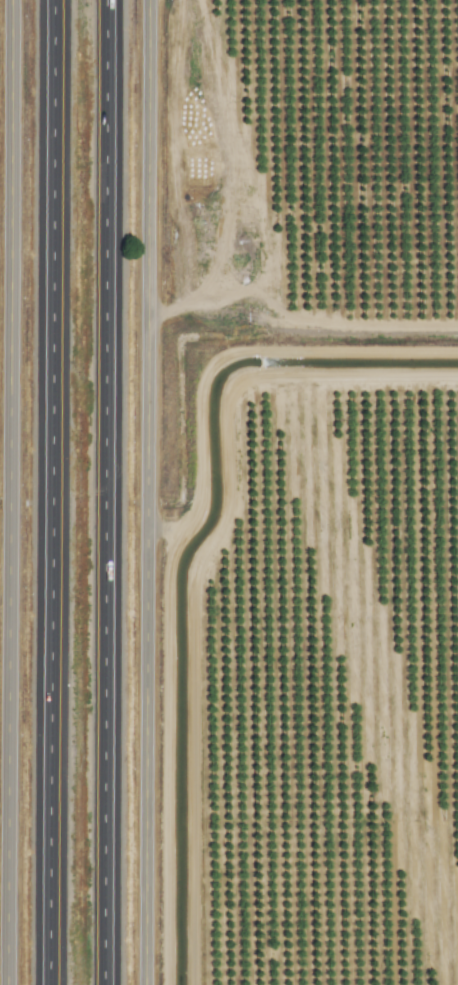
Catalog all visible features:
road: (361, 377)
road: (8, 492)
road: (50, 492)
road: (103, 492)
road: (144, 492)

